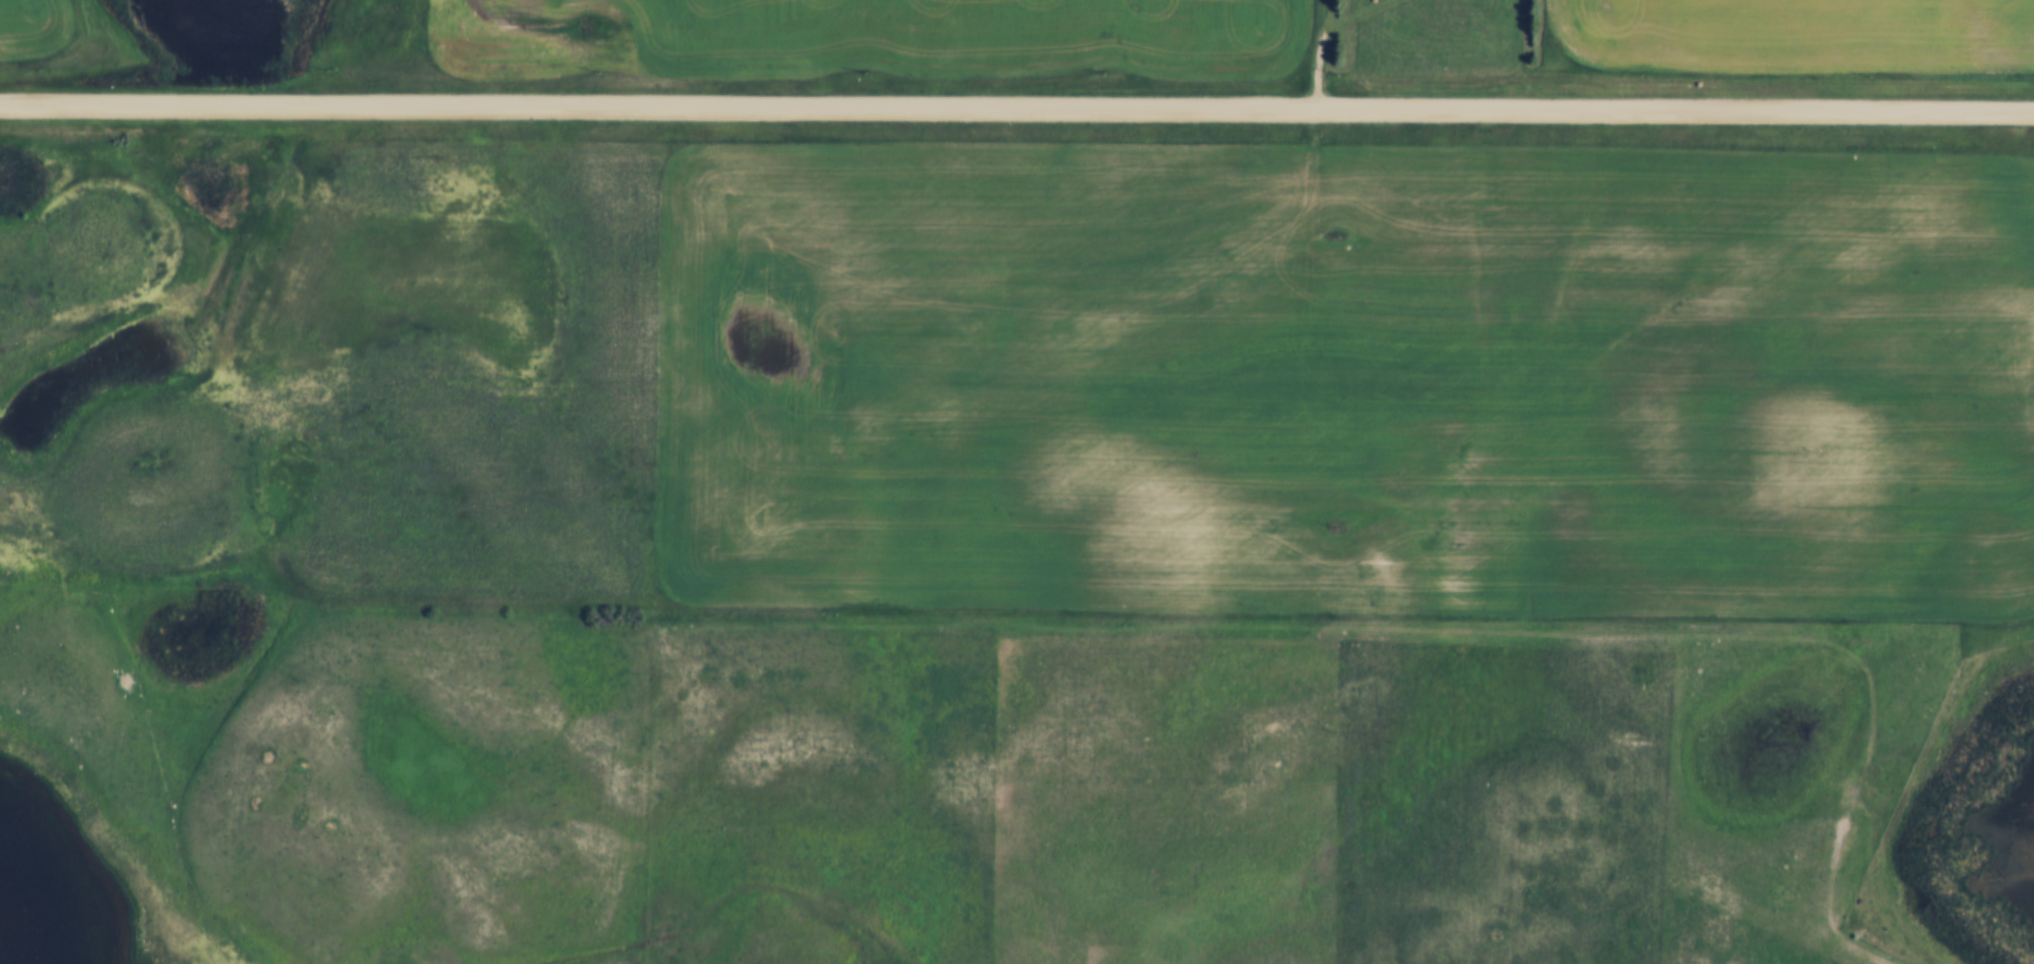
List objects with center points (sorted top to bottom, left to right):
park: (1443, 31)
road: (1325, 37)
road: (1017, 107)
road: (1868, 749)

